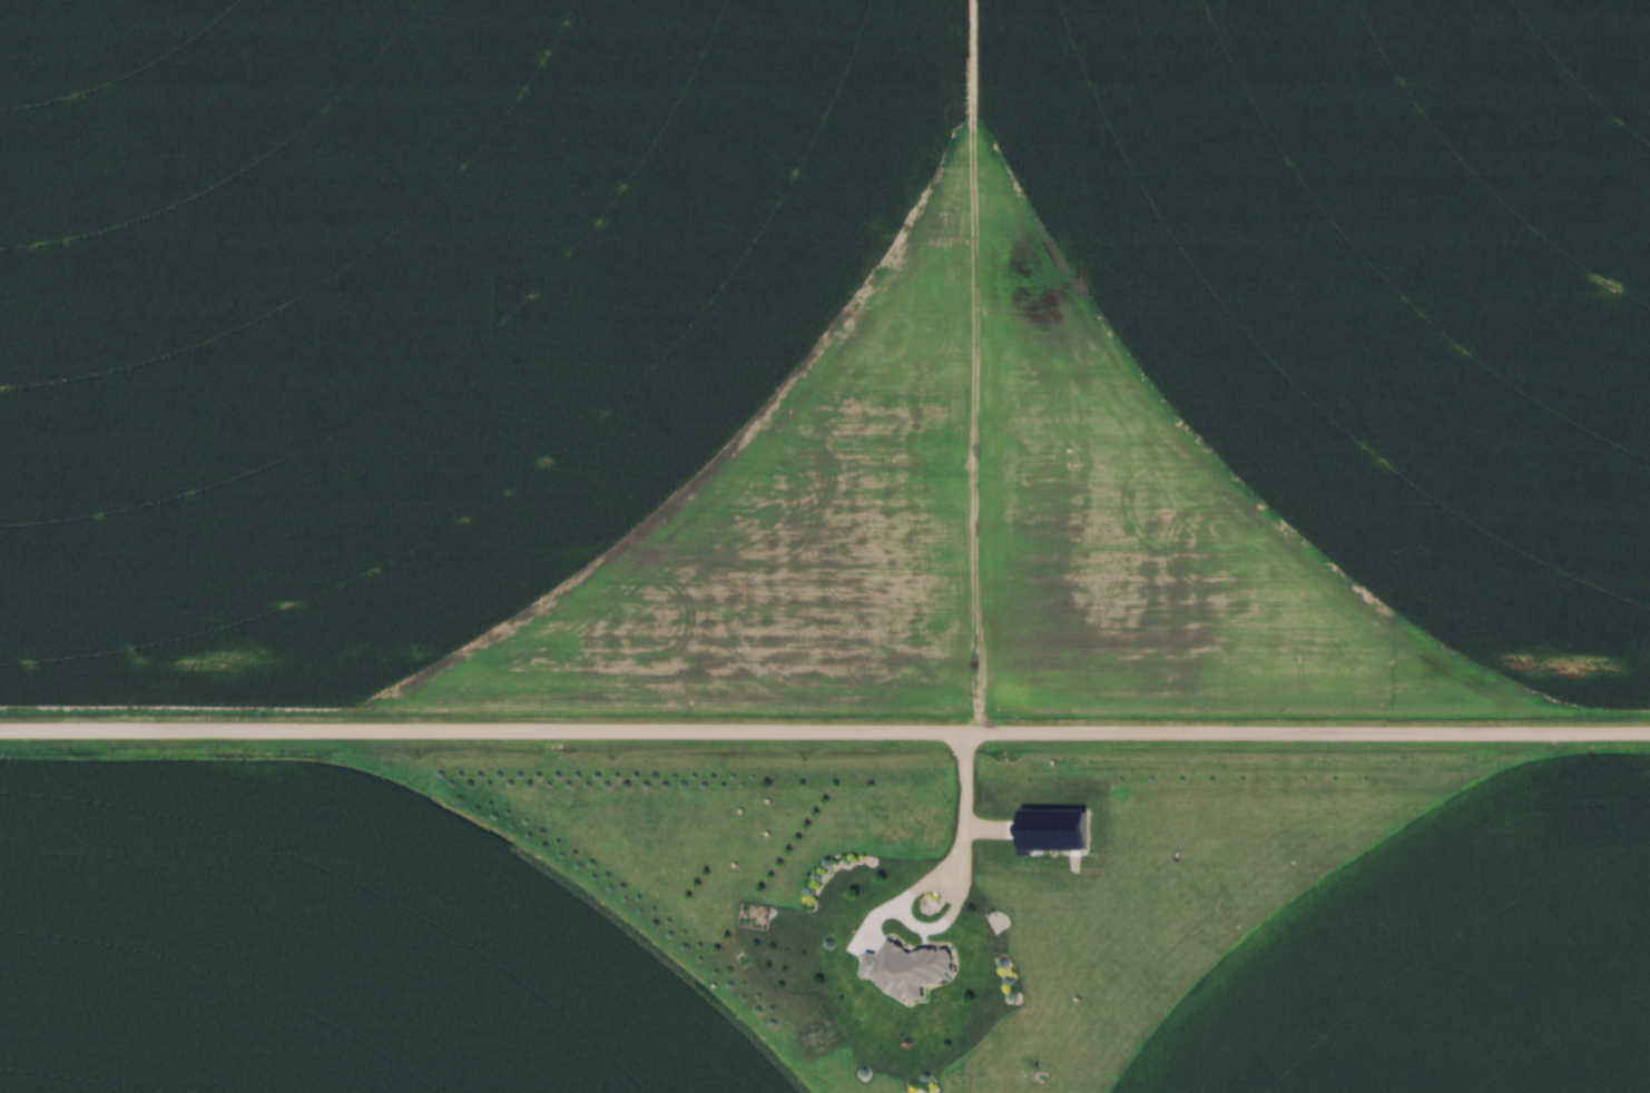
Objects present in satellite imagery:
road: (824, 732)

